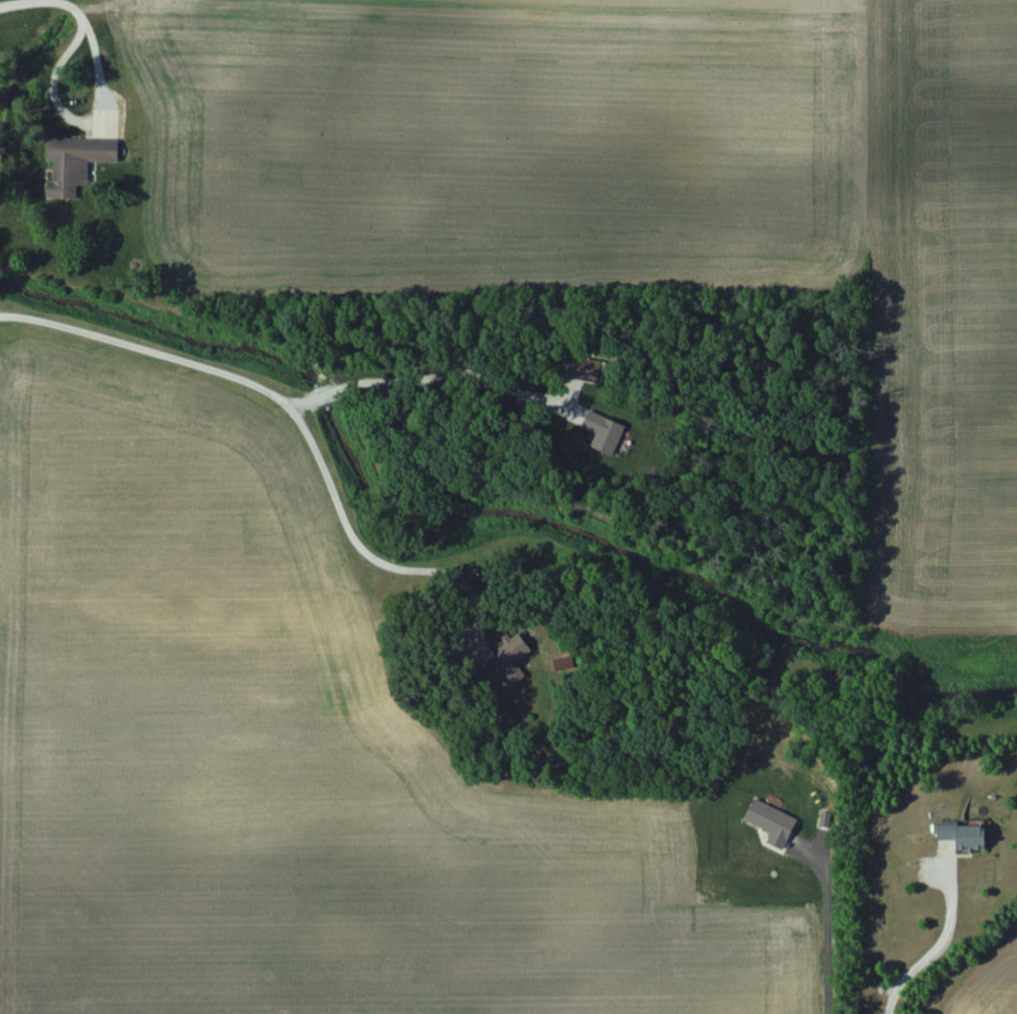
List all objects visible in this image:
road: (23, 74)
building: (73, 163)
road: (293, 420)
building: (958, 836)
road: (938, 937)

